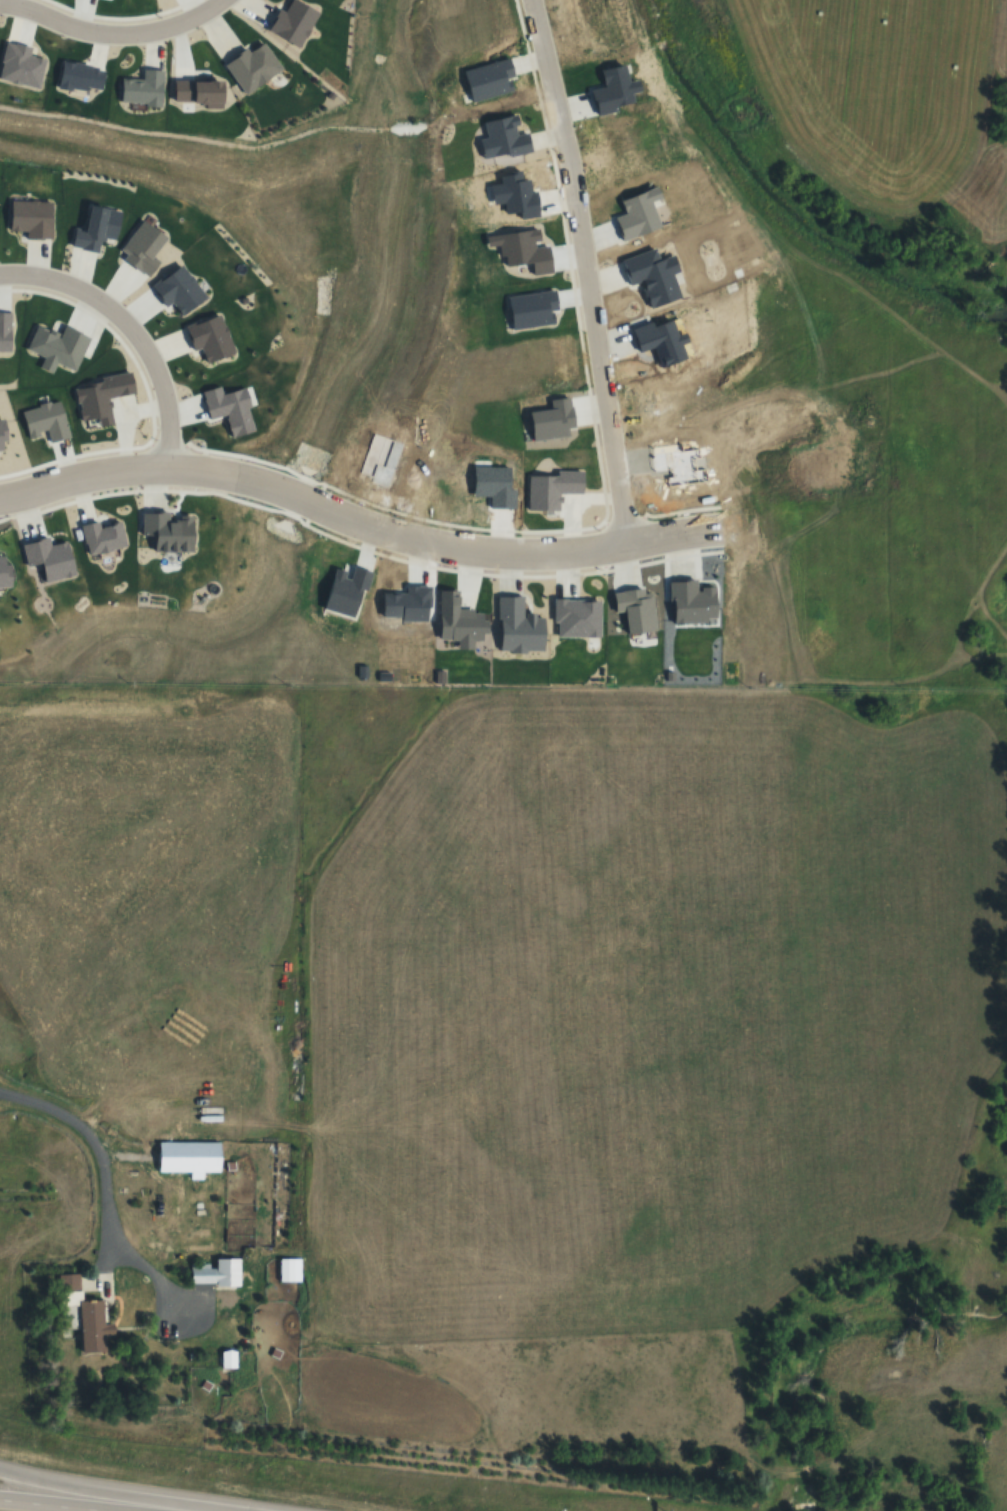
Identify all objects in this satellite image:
road: (101, 22)
road: (575, 269)
road: (131, 333)
road: (355, 522)
building: (190, 1157)
road: (101, 1165)
road: (105, 1246)
building: (289, 1270)
building: (217, 1273)
building: (82, 1314)
road: (197, 1329)
building: (229, 1359)
road: (125, 1492)
road: (53, 1504)

